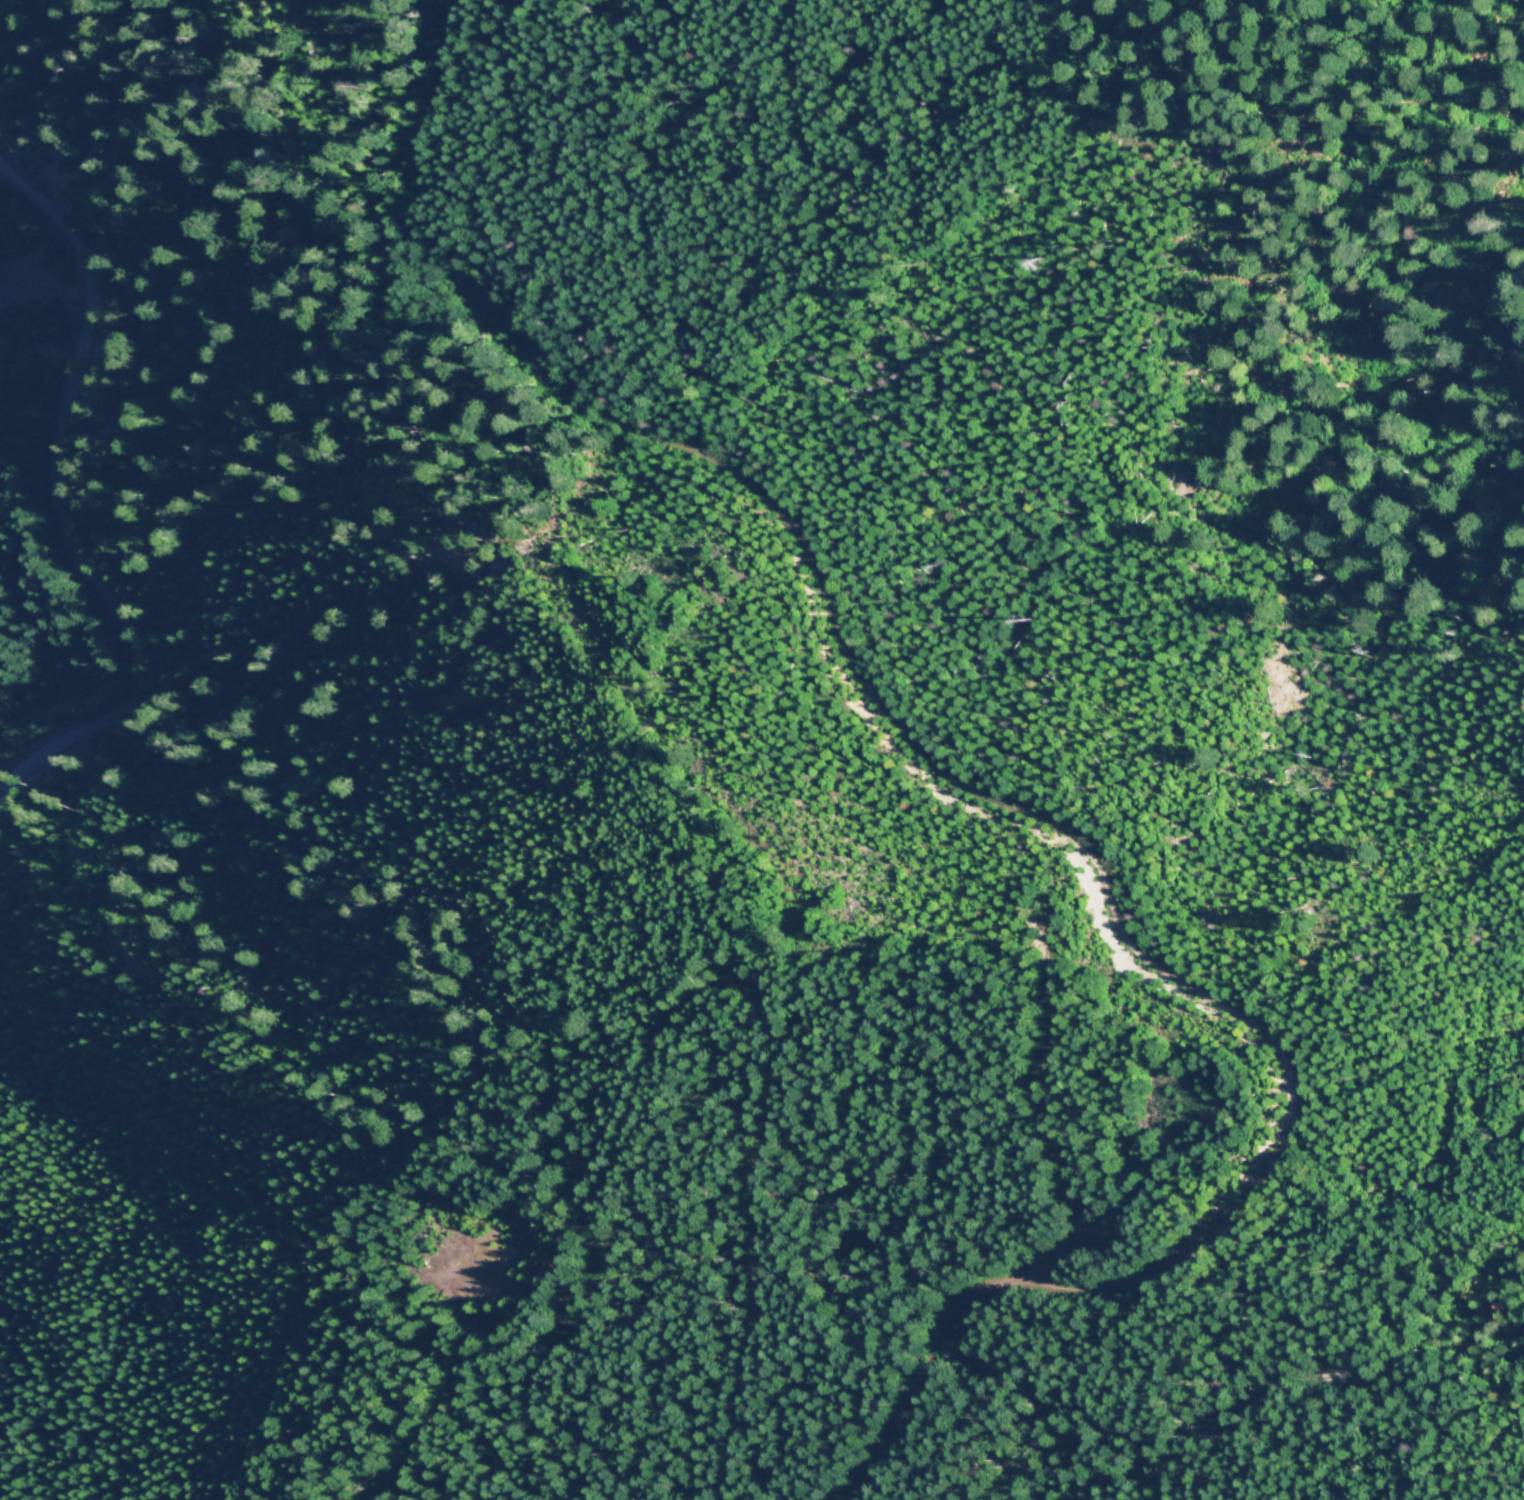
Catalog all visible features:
road: (60, 476)
road: (1125, 905)
road: (762, 1015)

